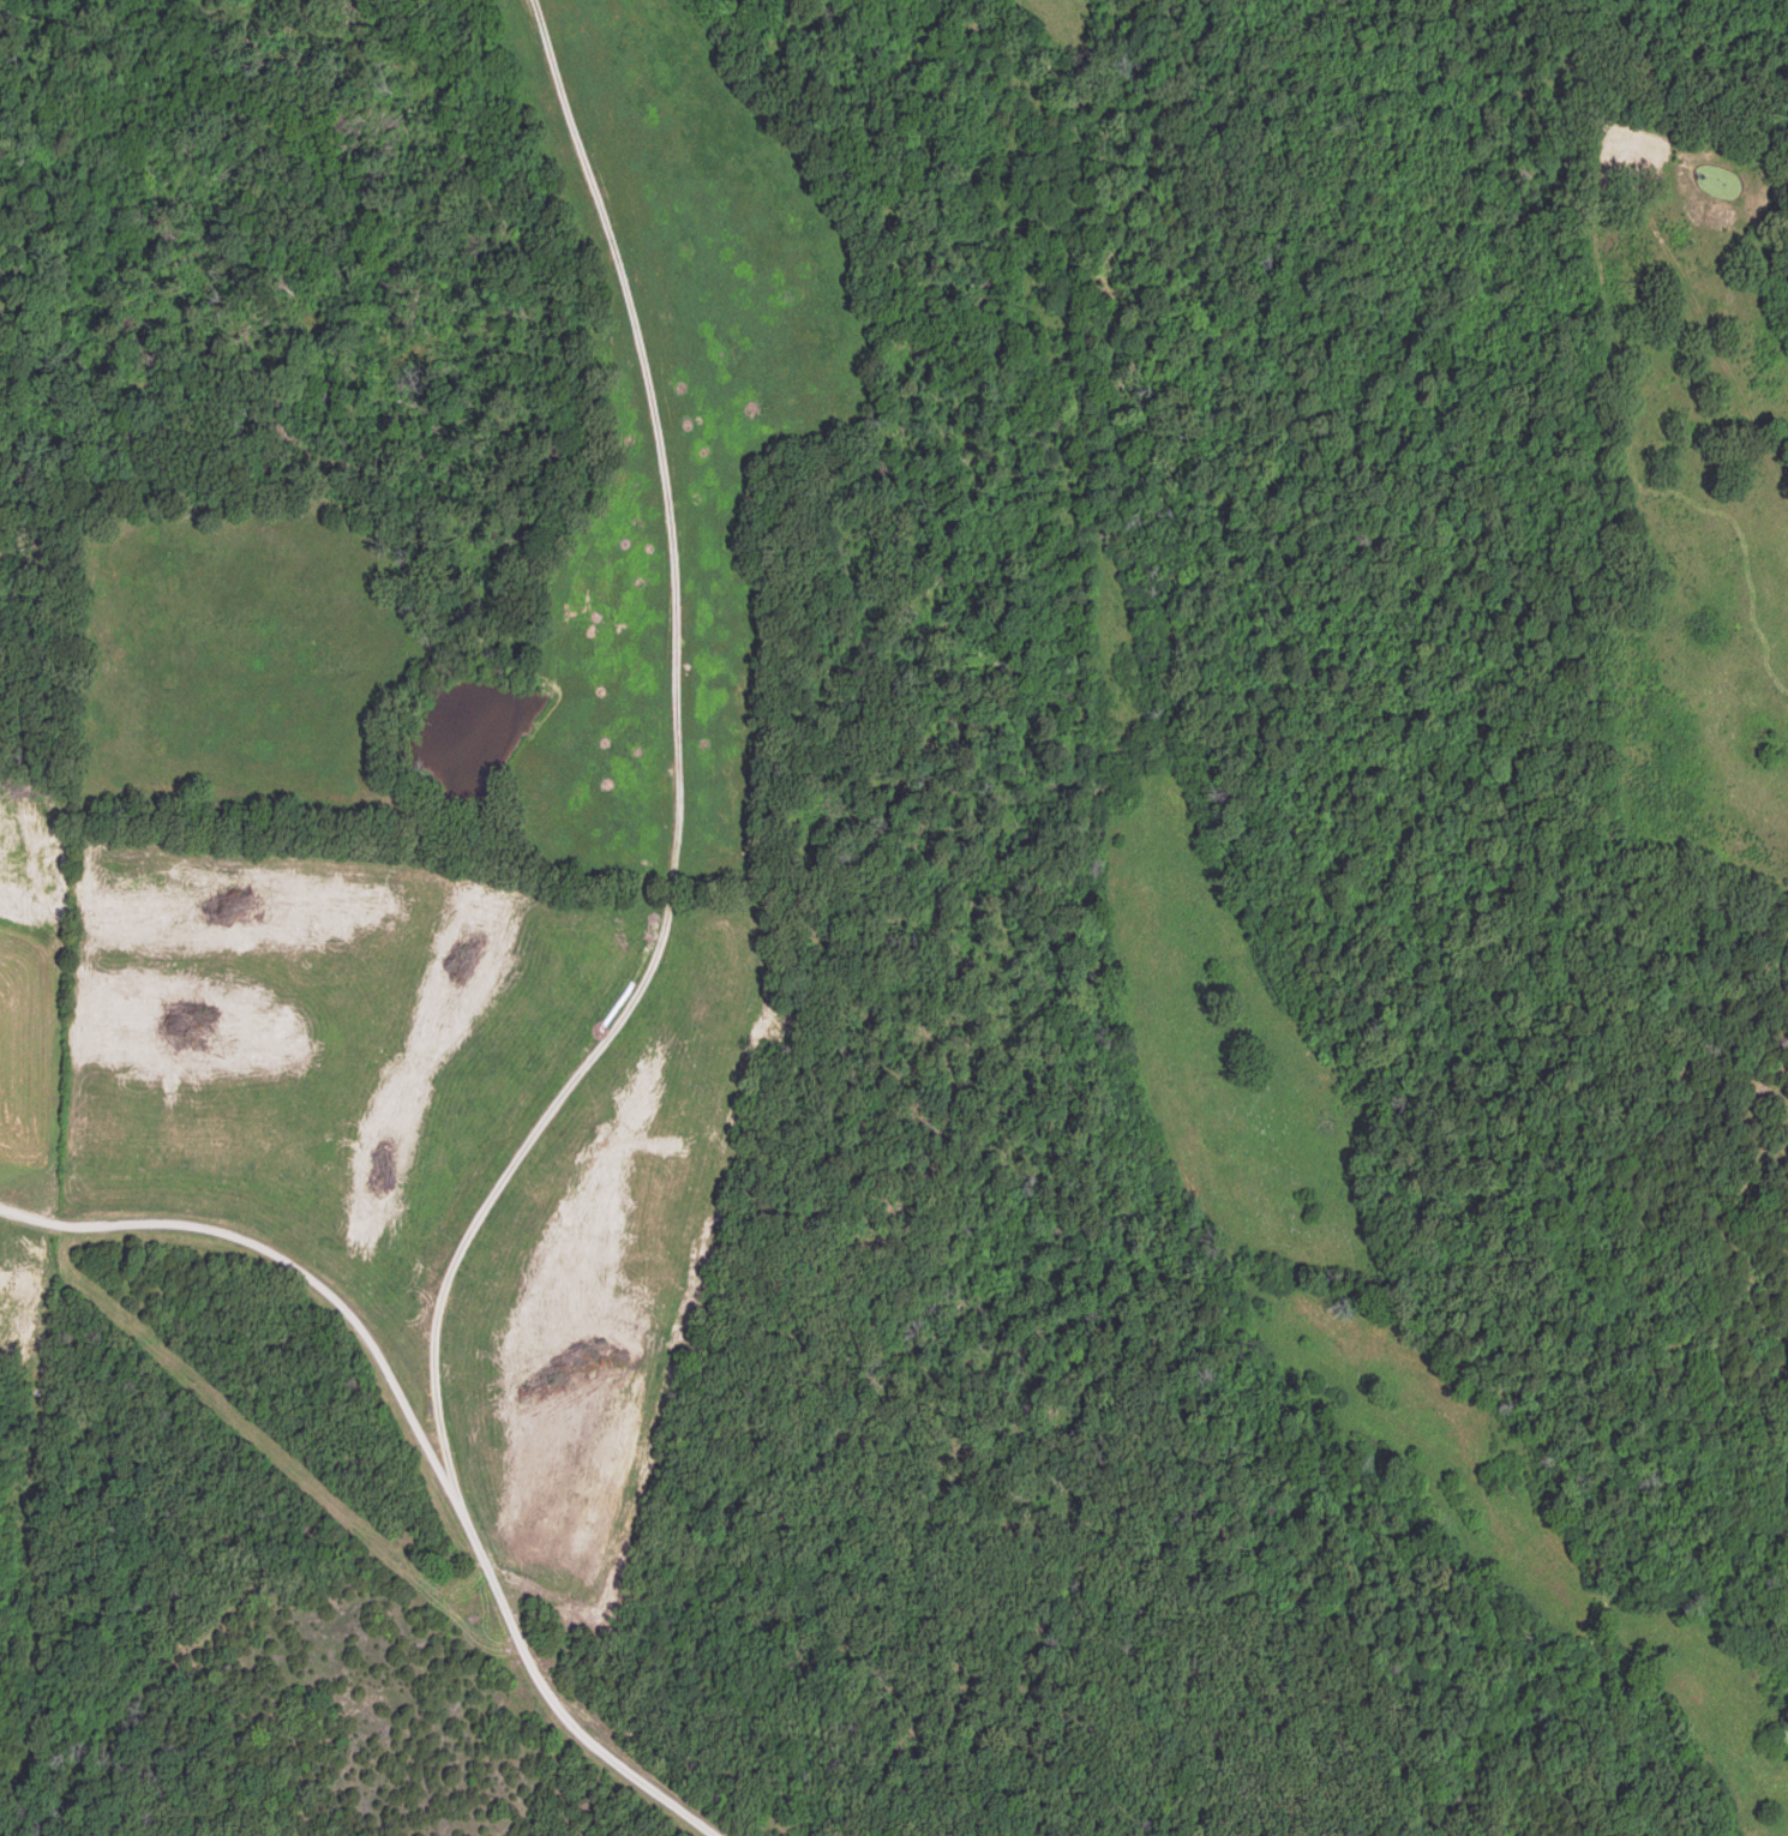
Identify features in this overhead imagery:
road: (623, 959)
road: (276, 1264)

